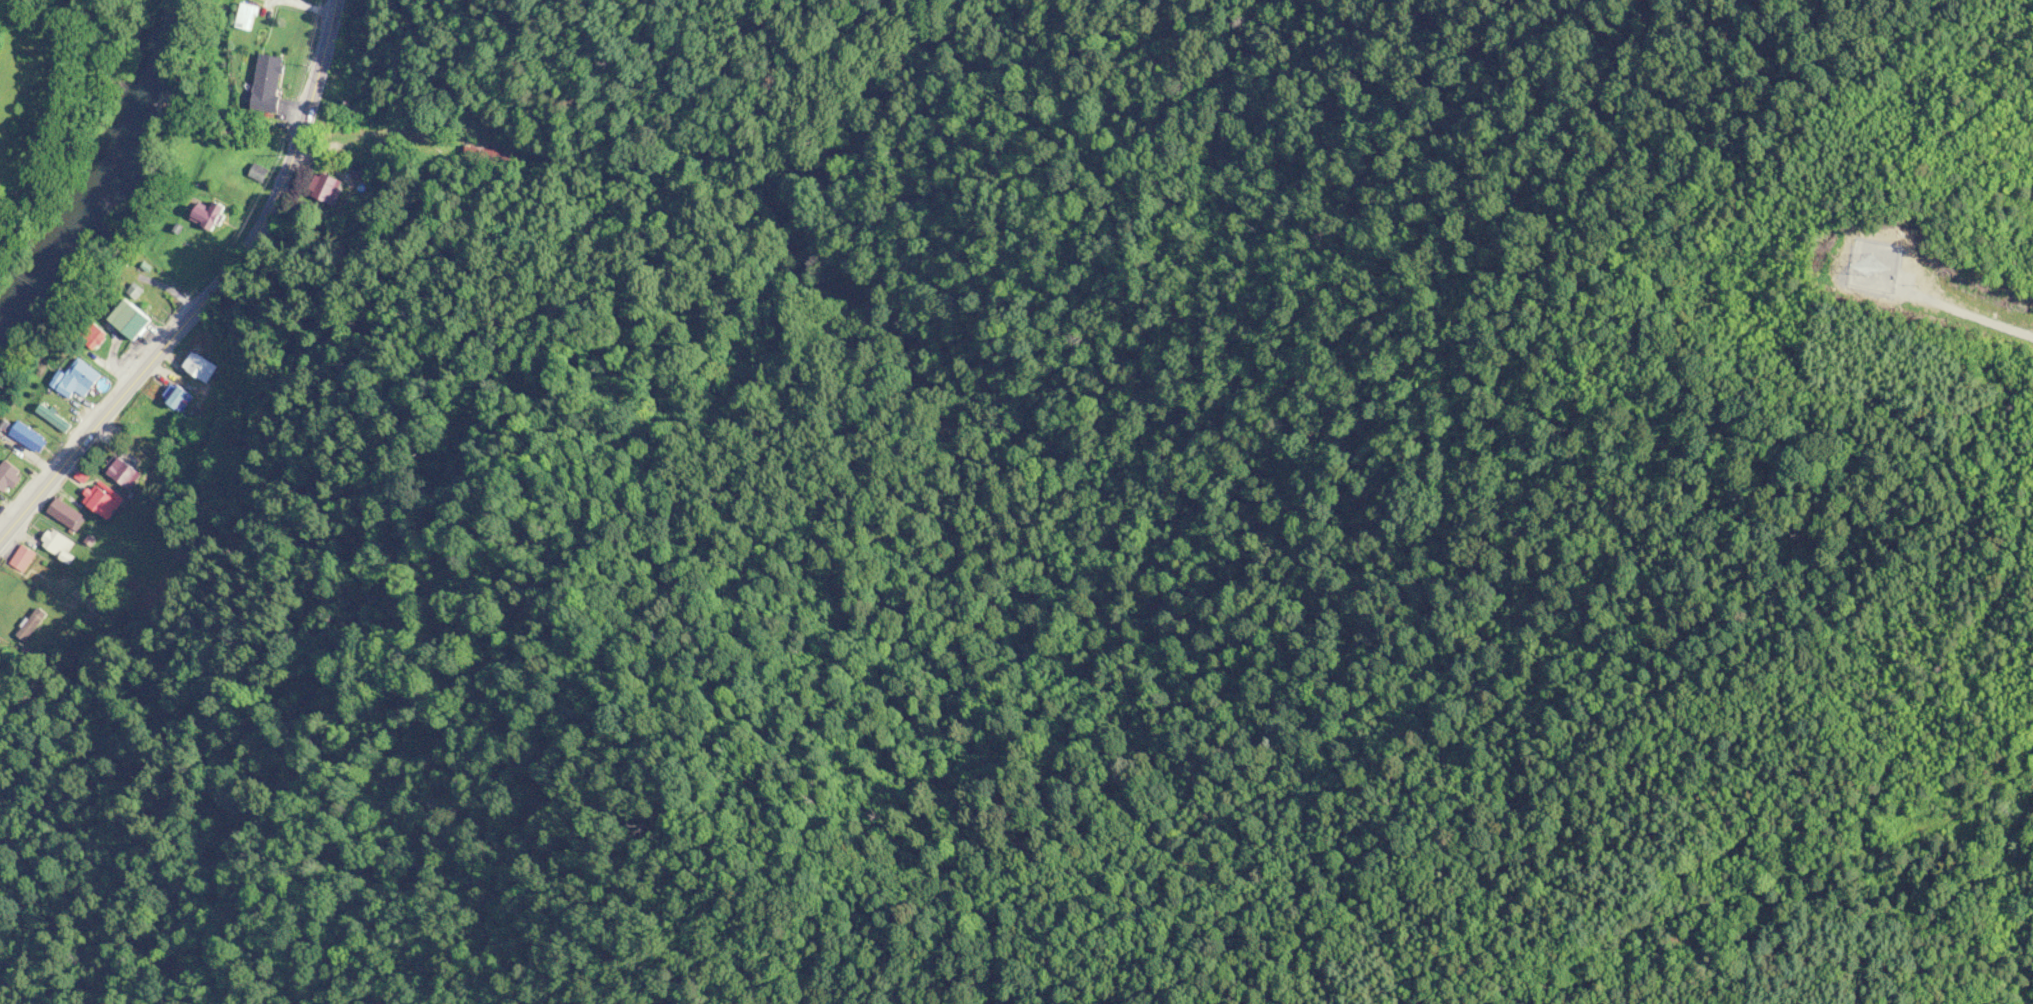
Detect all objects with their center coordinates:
building: (244, 17)
building: (266, 82)
building: (364, 119)
river: (107, 177)
road: (206, 292)
building: (132, 319)
building: (95, 337)
building: (199, 366)
building: (81, 380)
building: (55, 419)
building: (152, 433)
building: (29, 439)
building: (121, 472)
building: (10, 478)
building: (66, 516)
building: (55, 544)
building: (22, 559)

